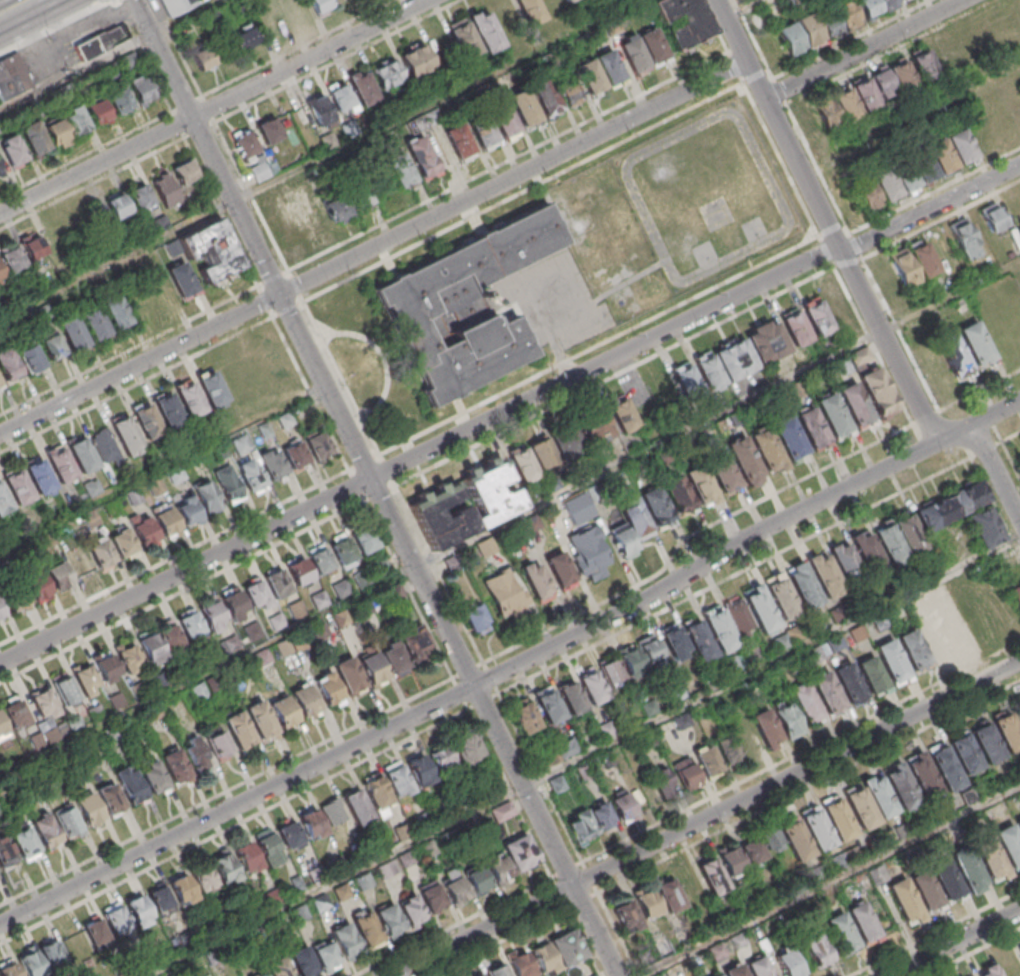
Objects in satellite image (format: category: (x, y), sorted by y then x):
building: (569, 0)
building: (904, 0)
building: (177, 5)
building: (321, 6)
building: (874, 6)
road: (16, 8)
road: (746, 10)
building: (529, 11)
building: (848, 16)
building: (683, 21)
building: (829, 24)
road: (54, 27)
building: (485, 29)
building: (799, 34)
building: (107, 37)
building: (463, 37)
road: (754, 39)
building: (242, 40)
road: (179, 48)
road: (300, 48)
road: (864, 49)
building: (643, 50)
road: (108, 54)
road: (144, 55)
building: (203, 58)
building: (416, 60)
road: (736, 68)
building: (600, 72)
building: (387, 74)
building: (929, 74)
building: (12, 75)
road: (757, 77)
building: (907, 84)
building: (140, 87)
building: (363, 88)
building: (569, 88)
building: (340, 96)
building: (546, 96)
building: (119, 99)
building: (870, 103)
road: (215, 106)
building: (524, 107)
road: (210, 108)
building: (319, 109)
building: (97, 110)
building: (851, 112)
building: (76, 119)
building: (504, 120)
road: (179, 123)
building: (348, 129)
building: (269, 130)
road: (606, 130)
building: (483, 131)
building: (58, 133)
building: (34, 138)
building: (459, 142)
building: (245, 144)
road: (210, 145)
building: (13, 151)
building: (965, 153)
building: (422, 156)
road: (319, 159)
road: (781, 159)
building: (1, 169)
building: (262, 170)
building: (401, 170)
building: (184, 172)
building: (896, 181)
building: (165, 190)
road: (524, 193)
road: (253, 195)
building: (141, 197)
building: (360, 198)
building: (117, 205)
building: (337, 208)
road: (223, 211)
building: (291, 211)
building: (97, 216)
building: (992, 216)
road: (825, 222)
building: (160, 223)
building: (964, 237)
building: (34, 246)
road: (374, 247)
building: (212, 250)
building: (12, 258)
building: (923, 258)
building: (904, 267)
building: (1, 275)
building: (181, 279)
road: (297, 286)
road: (266, 301)
building: (468, 305)
building: (837, 306)
building: (117, 312)
building: (817, 317)
building: (95, 323)
building: (795, 328)
building: (72, 331)
building: (853, 333)
road: (197, 334)
building: (976, 341)
building: (51, 344)
road: (599, 345)
building: (954, 353)
building: (741, 354)
building: (30, 357)
road: (380, 357)
building: (860, 357)
building: (8, 363)
road: (342, 378)
building: (685, 381)
building: (0, 386)
road: (325, 386)
building: (212, 388)
building: (879, 390)
road: (980, 391)
road: (312, 393)
building: (190, 399)
building: (857, 402)
road: (57, 404)
building: (168, 409)
building: (632, 409)
road: (508, 410)
building: (834, 413)
building: (146, 420)
building: (596, 429)
building: (812, 429)
building: (127, 435)
building: (791, 435)
building: (104, 445)
building: (568, 445)
road: (996, 445)
building: (319, 446)
building: (768, 446)
building: (82, 453)
building: (1019, 454)
building: (745, 455)
building: (296, 457)
building: (533, 459)
road: (1011, 459)
road: (365, 462)
building: (60, 463)
building: (273, 464)
road: (388, 470)
road: (997, 471)
building: (724, 474)
building: (175, 475)
building: (39, 476)
building: (251, 476)
building: (229, 484)
road: (357, 484)
building: (701, 486)
building: (18, 487)
building: (492, 495)
building: (678, 495)
building: (208, 496)
building: (3, 501)
building: (952, 503)
building: (656, 506)
building: (188, 510)
building: (443, 519)
road: (509, 519)
building: (166, 522)
building: (985, 525)
building: (630, 527)
building: (144, 531)
building: (909, 533)
road: (689, 537)
building: (364, 539)
building: (890, 542)
building: (123, 543)
building: (342, 550)
building: (589, 551)
building: (868, 553)
building: (102, 554)
building: (321, 560)
building: (79, 563)
building: (848, 563)
building: (299, 570)
building: (560, 570)
building: (826, 574)
building: (58, 576)
building: (537, 581)
building: (805, 584)
building: (37, 587)
building: (341, 588)
building: (267, 589)
road: (408, 589)
building: (1016, 593)
building: (505, 594)
building: (783, 596)
building: (16, 598)
building: (319, 599)
building: (234, 606)
building: (762, 607)
building: (297, 609)
building: (841, 612)
building: (1, 614)
building: (740, 616)
building: (213, 617)
building: (475, 619)
building: (277, 621)
building: (816, 623)
building: (191, 625)
building: (320, 629)
building: (721, 629)
building: (253, 632)
building: (798, 632)
building: (957, 632)
building: (698, 639)
building: (674, 641)
building: (416, 642)
building: (783, 642)
building: (161, 644)
building: (291, 645)
building: (913, 648)
building: (640, 656)
building: (753, 656)
building: (395, 657)
building: (891, 658)
building: (732, 666)
building: (373, 667)
road: (512, 668)
building: (107, 672)
building: (611, 672)
building: (348, 673)
building: (873, 674)
building: (849, 681)
building: (592, 685)
building: (329, 688)
building: (64, 689)
building: (828, 691)
road: (461, 694)
building: (571, 698)
building: (304, 699)
road: (485, 700)
building: (44, 704)
building: (806, 705)
building: (550, 706)
building: (284, 709)
building: (16, 714)
building: (524, 716)
building: (261, 718)
building: (789, 718)
building: (682, 721)
road: (495, 726)
building: (3, 729)
building: (240, 729)
building: (765, 729)
building: (607, 730)
building: (1008, 731)
building: (218, 742)
building: (988, 742)
building: (466, 749)
building: (727, 750)
building: (195, 753)
building: (555, 753)
building: (966, 753)
road: (582, 755)
building: (443, 760)
building: (707, 761)
building: (174, 765)
building: (945, 766)
building: (420, 770)
building: (922, 773)
building: (686, 774)
building: (153, 776)
building: (398, 779)
building: (662, 784)
building: (900, 784)
building: (131, 785)
building: (556, 785)
building: (378, 791)
road: (226, 792)
road: (510, 793)
building: (879, 796)
building: (111, 798)
building: (357, 807)
building: (861, 807)
building: (88, 808)
building: (622, 808)
building: (332, 811)
building: (503, 811)
road: (707, 818)
building: (838, 819)
building: (589, 821)
building: (67, 822)
building: (312, 822)
building: (1018, 822)
building: (818, 829)
building: (45, 830)
building: (902, 830)
building: (402, 832)
building: (290, 834)
building: (452, 837)
building: (797, 840)
building: (881, 840)
building: (24, 842)
building: (1009, 843)
building: (269, 847)
building: (753, 849)
building: (429, 850)
building: (5, 851)
building: (989, 854)
building: (853, 855)
building: (248, 856)
building: (408, 859)
building: (732, 861)
building: (838, 861)
building: (968, 868)
building: (388, 871)
building: (215, 873)
building: (316, 875)
building: (877, 876)
building: (711, 877)
building: (947, 878)
building: (365, 881)
road: (834, 882)
building: (925, 889)
building: (182, 890)
building: (343, 893)
road: (558, 893)
building: (670, 895)
building: (160, 898)
building: (433, 898)
building: (905, 899)
building: (323, 904)
building: (649, 904)
building: (411, 909)
building: (138, 911)
building: (301, 914)
building: (627, 916)
building: (389, 918)
building: (116, 919)
building: (864, 922)
building: (366, 926)
building: (95, 930)
building: (843, 932)
road: (935, 933)
road: (619, 935)
building: (345, 937)
building: (74, 943)
road: (582, 943)
road: (954, 943)
building: (568, 947)
building: (1019, 948)
building: (664, 949)
building: (718, 950)
building: (819, 950)
road: (971, 951)
building: (52, 953)
building: (327, 956)
building: (544, 956)
building: (302, 960)
building: (31, 963)
building: (790, 963)
building: (521, 965)
building: (760, 966)
building: (8, 968)
building: (281, 969)
building: (736, 970)
building: (990, 971)
building: (262, 974)
building: (718, 974)
building: (970, 974)
building: (480, 975)

